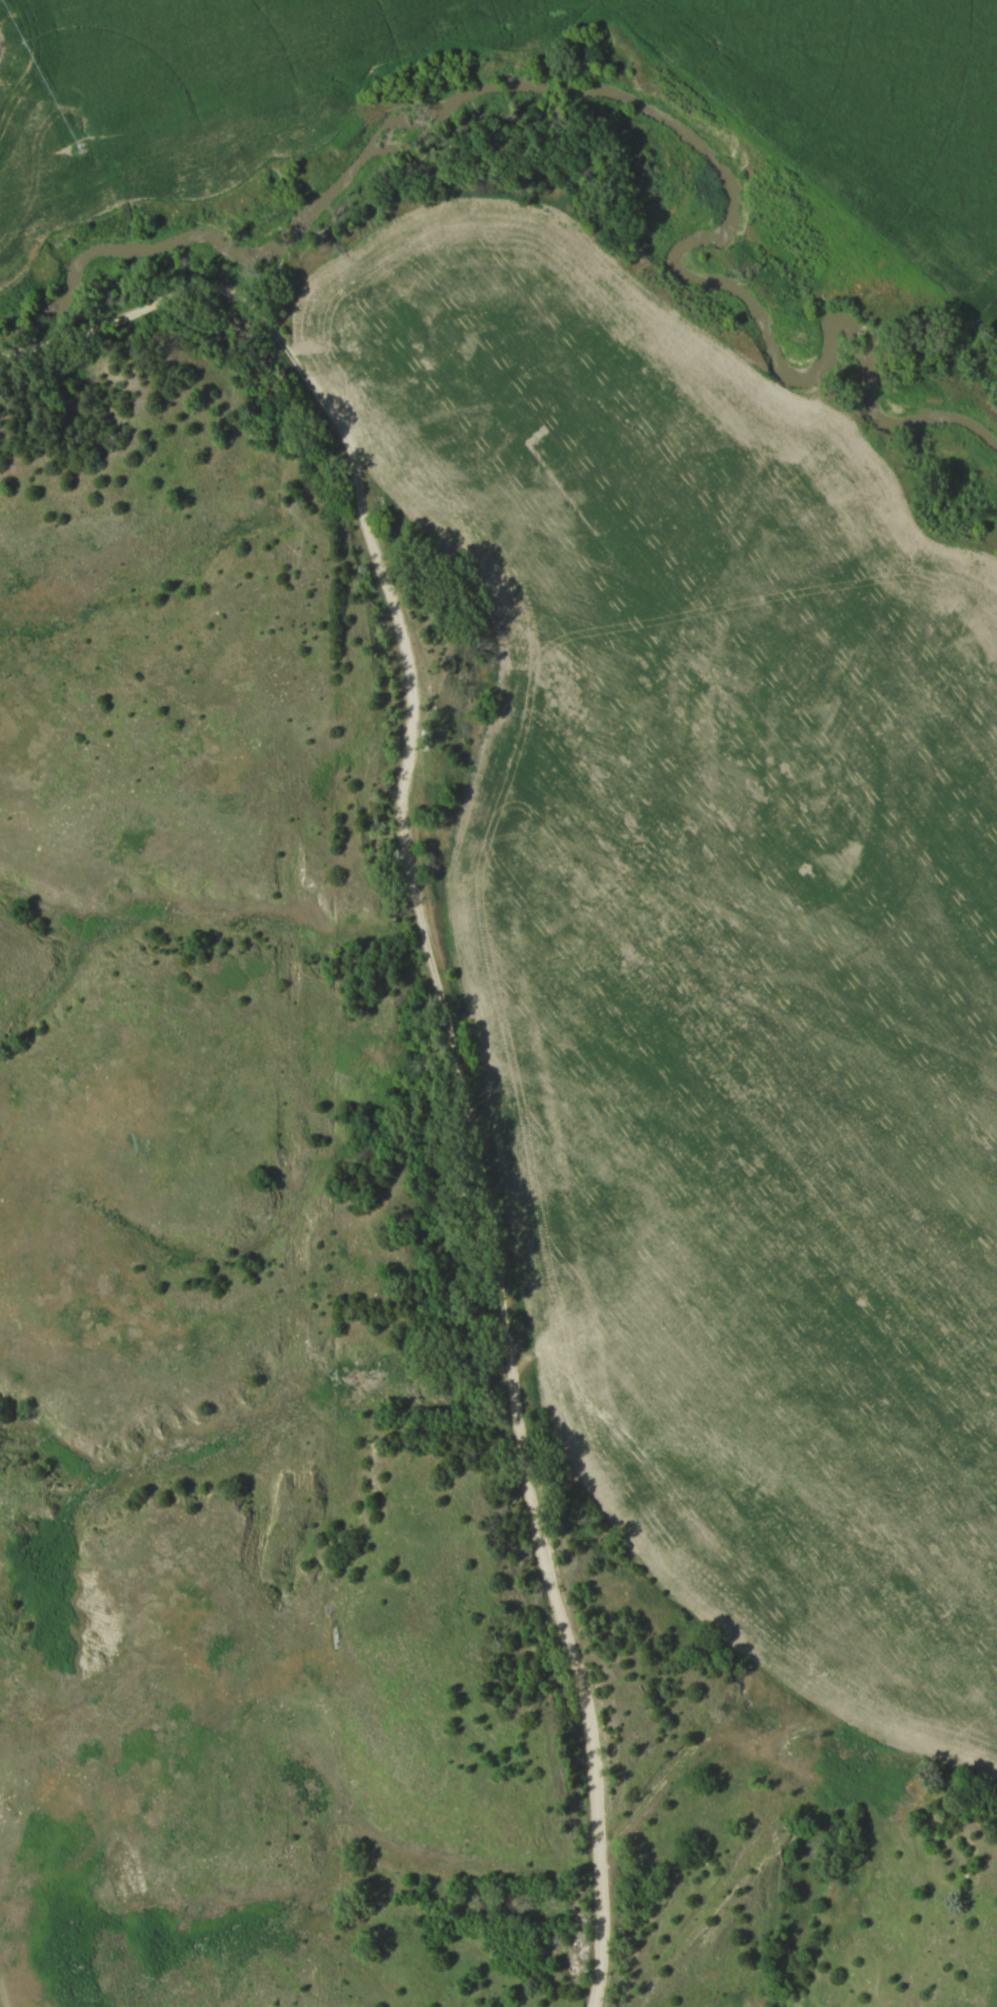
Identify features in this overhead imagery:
crop: (131, 158)
crop: (941, 240)

